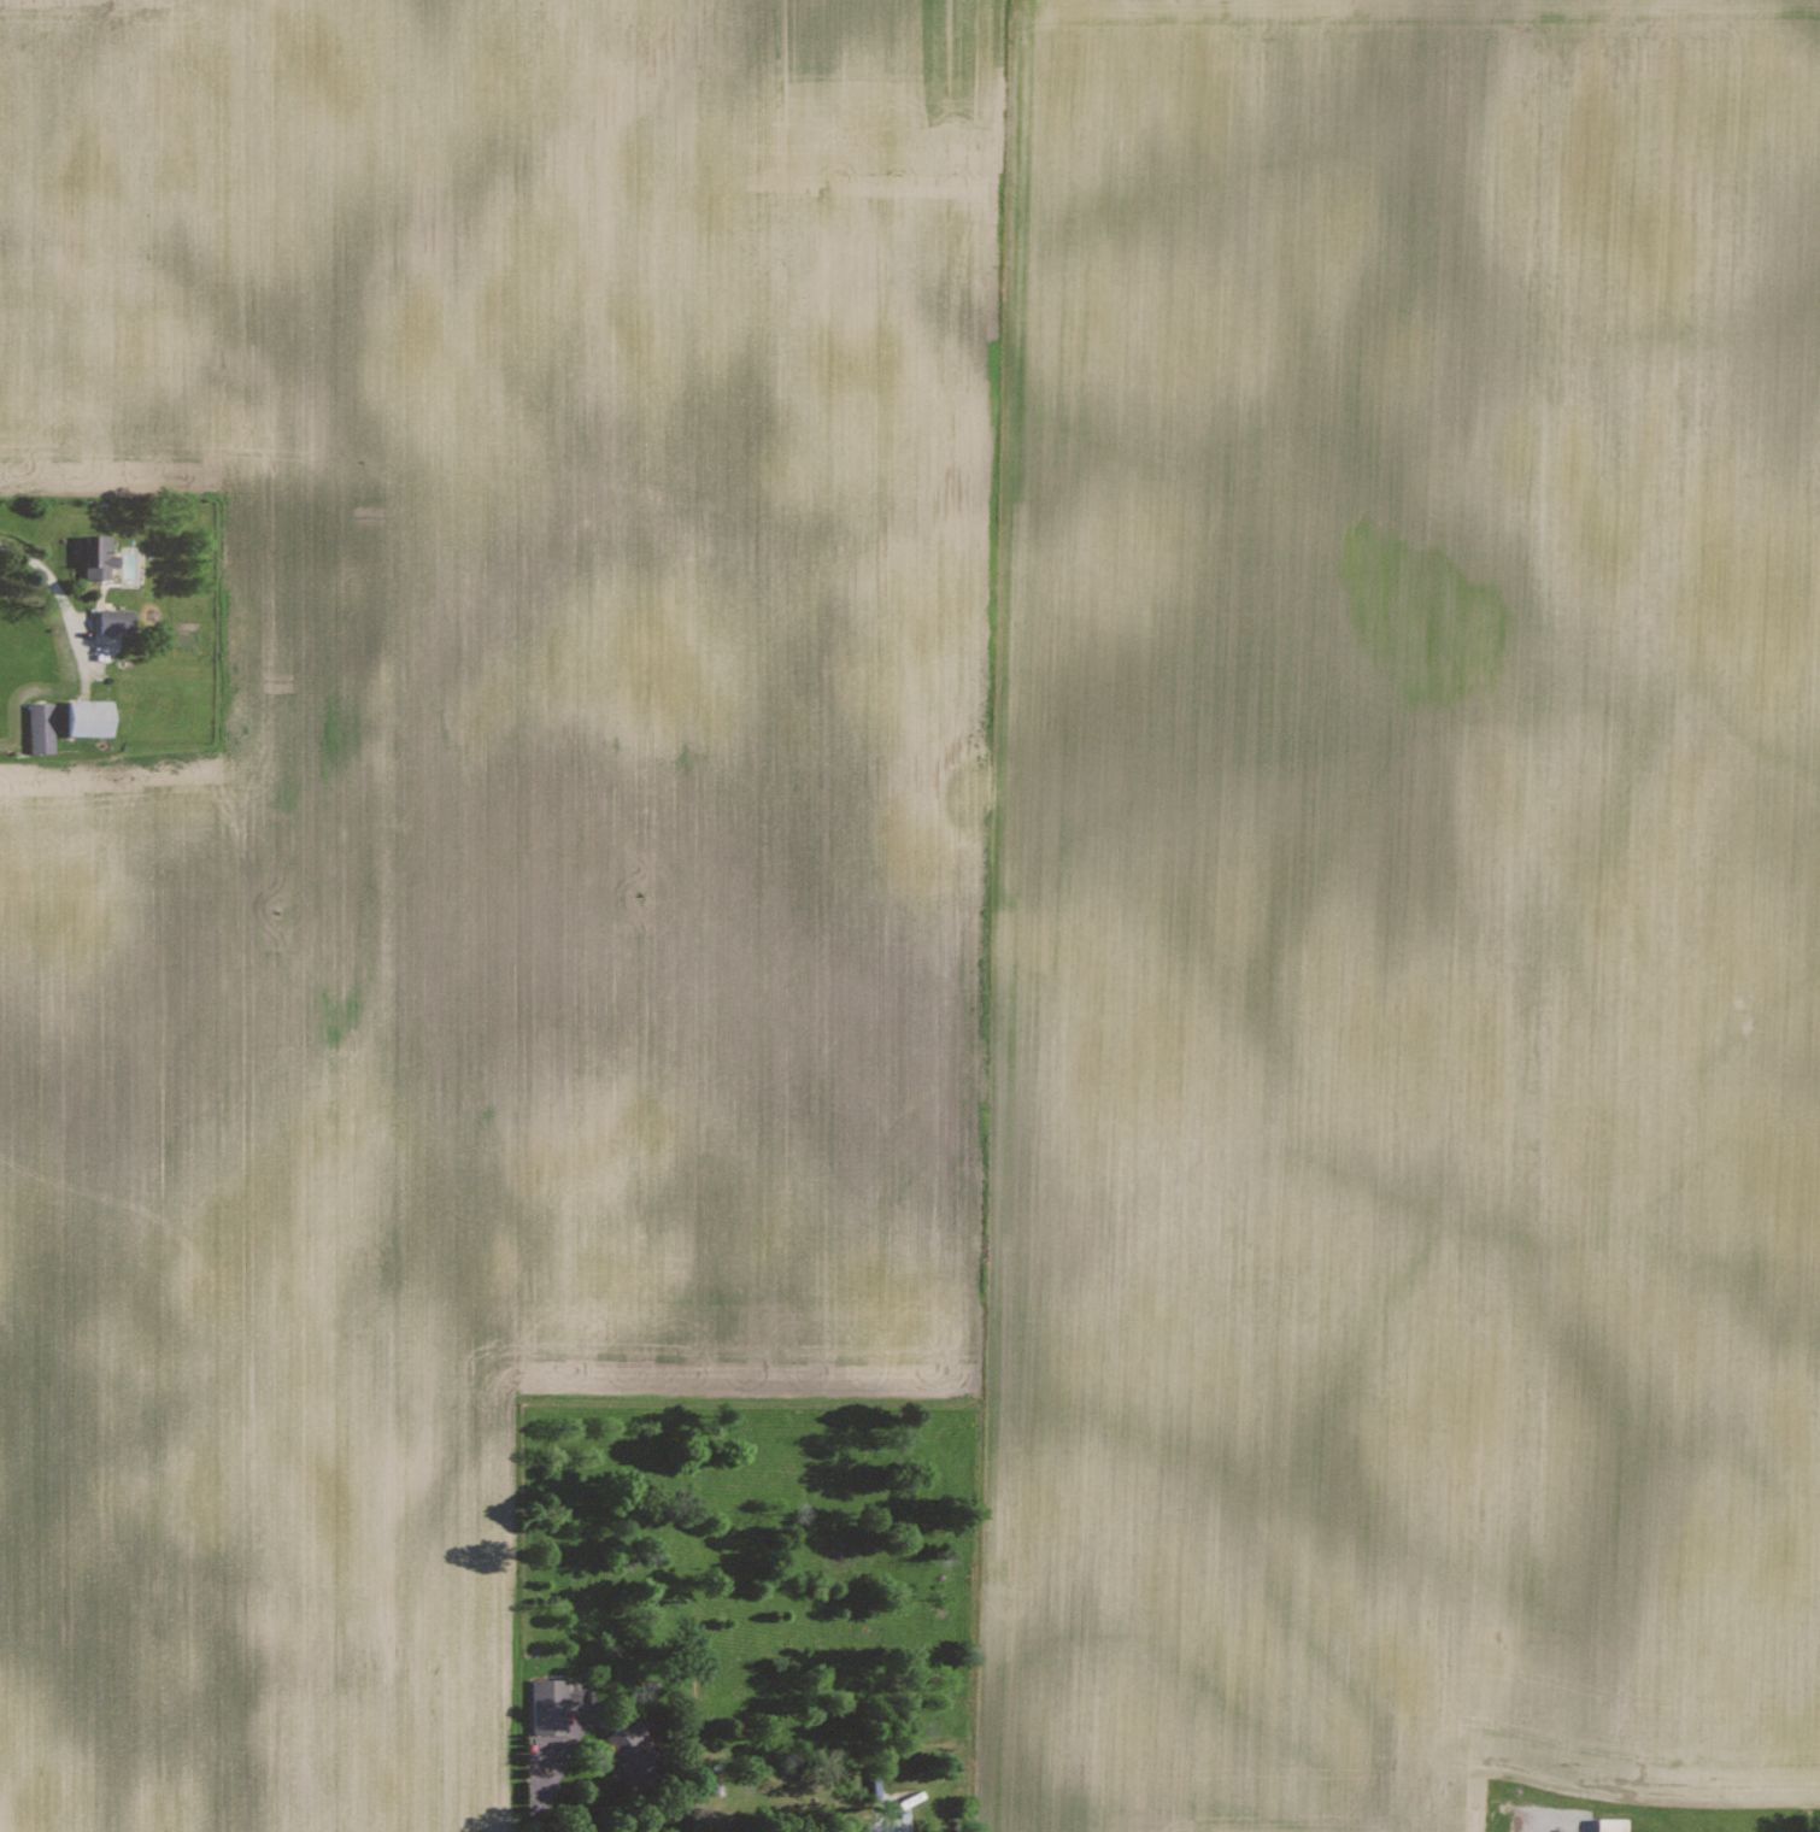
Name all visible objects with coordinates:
building: (98, 554)
road: (46, 571)
building: (117, 620)
building: (90, 716)
building: (41, 727)
building: (550, 1707)
building: (632, 1751)
road: (552, 1762)
building: (1613, 1825)
road: (887, 1830)

